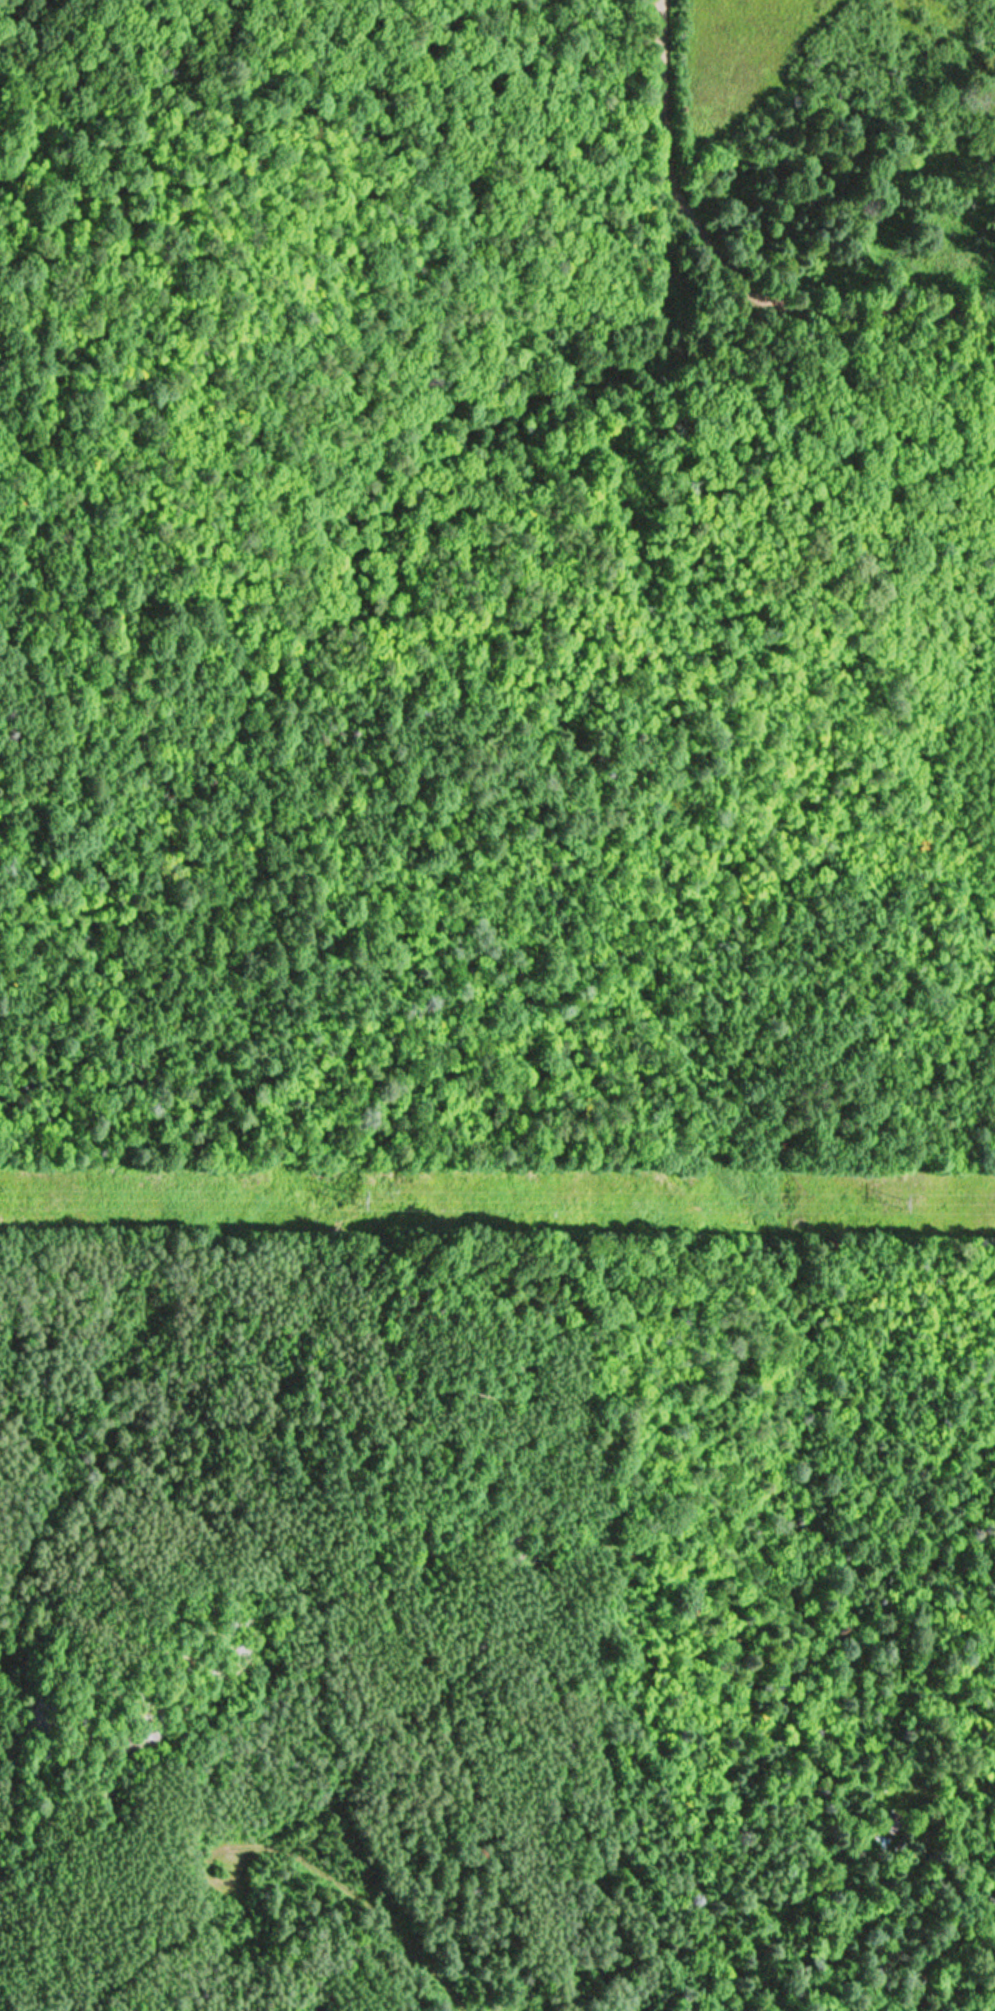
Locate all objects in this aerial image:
road: (424, 62)
road: (725, 260)
power tower: (360, 1203)
power tower: (898, 1206)
building: (886, 1823)

